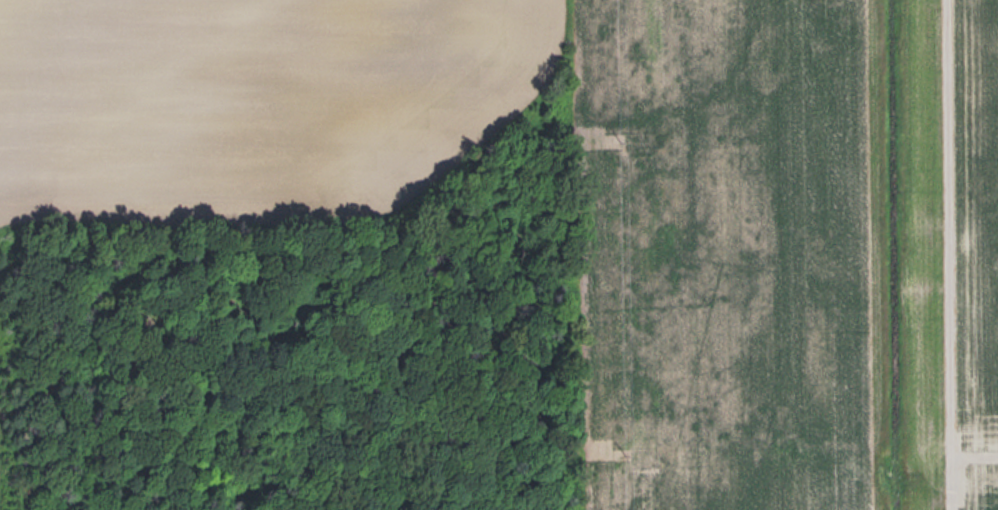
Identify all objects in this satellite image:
power tower: (622, 132)
road: (947, 254)
power tower: (628, 446)
road: (973, 462)

